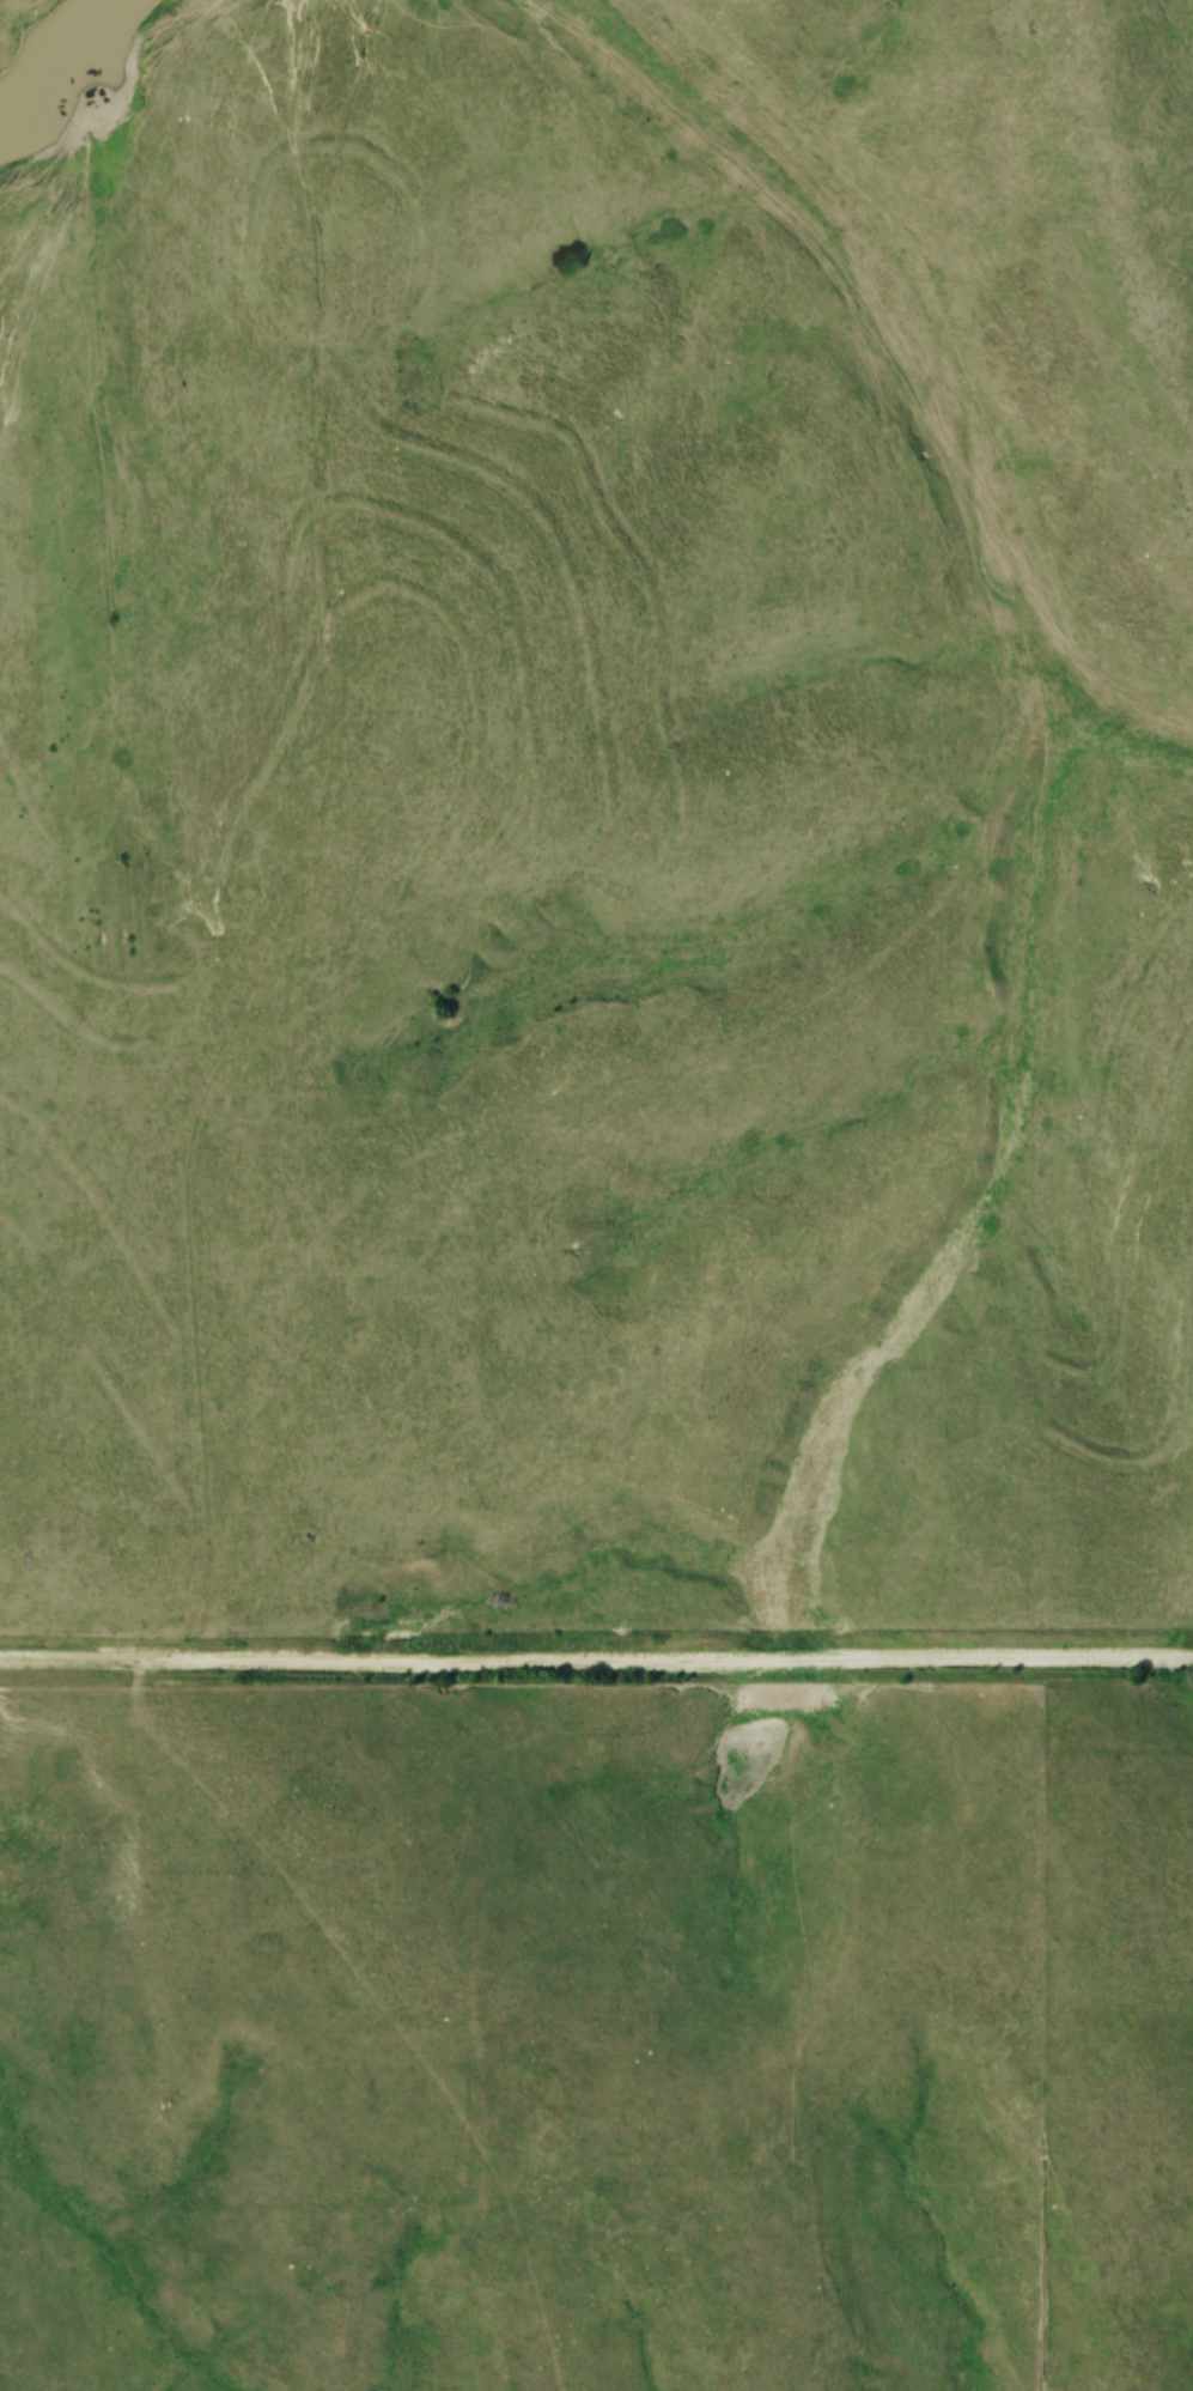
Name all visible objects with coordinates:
road: (596, 1661)

